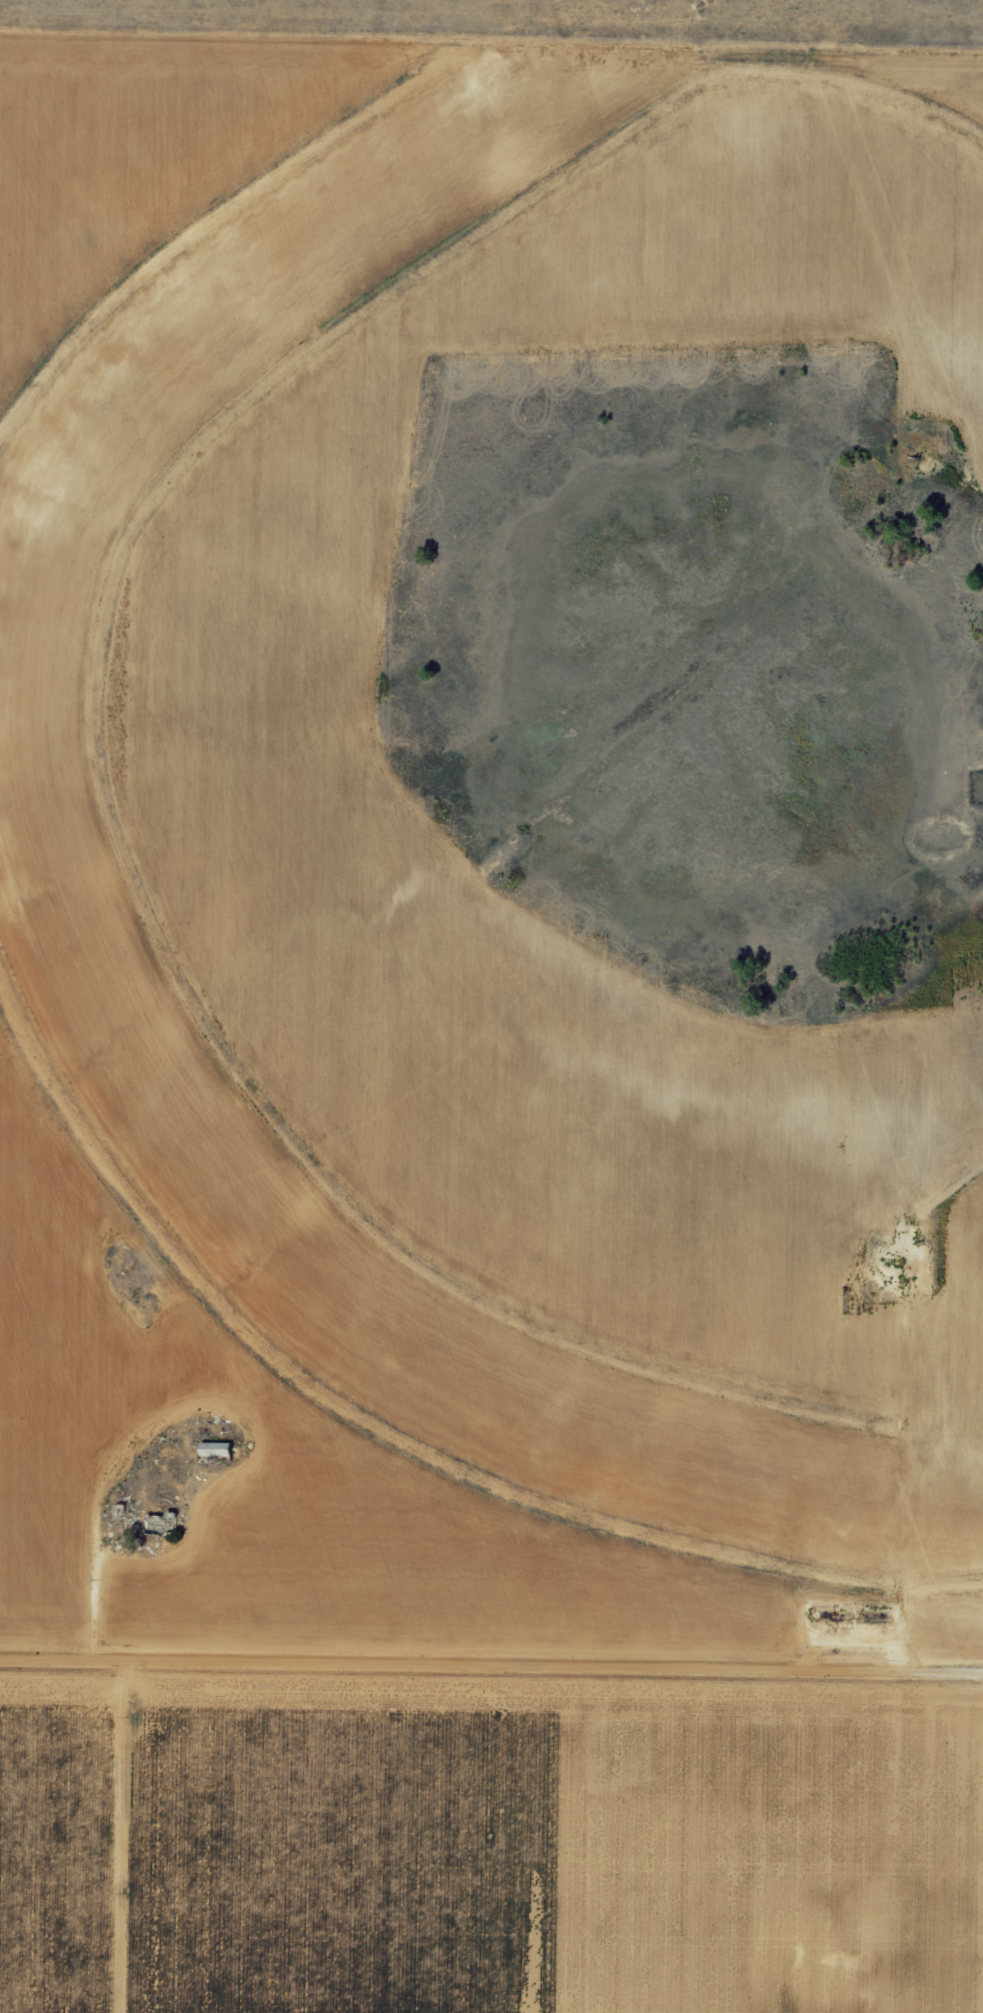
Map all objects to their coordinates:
road: (491, 47)
petroleum well: (889, 1263)
road: (193, 1412)
road: (491, 1677)

